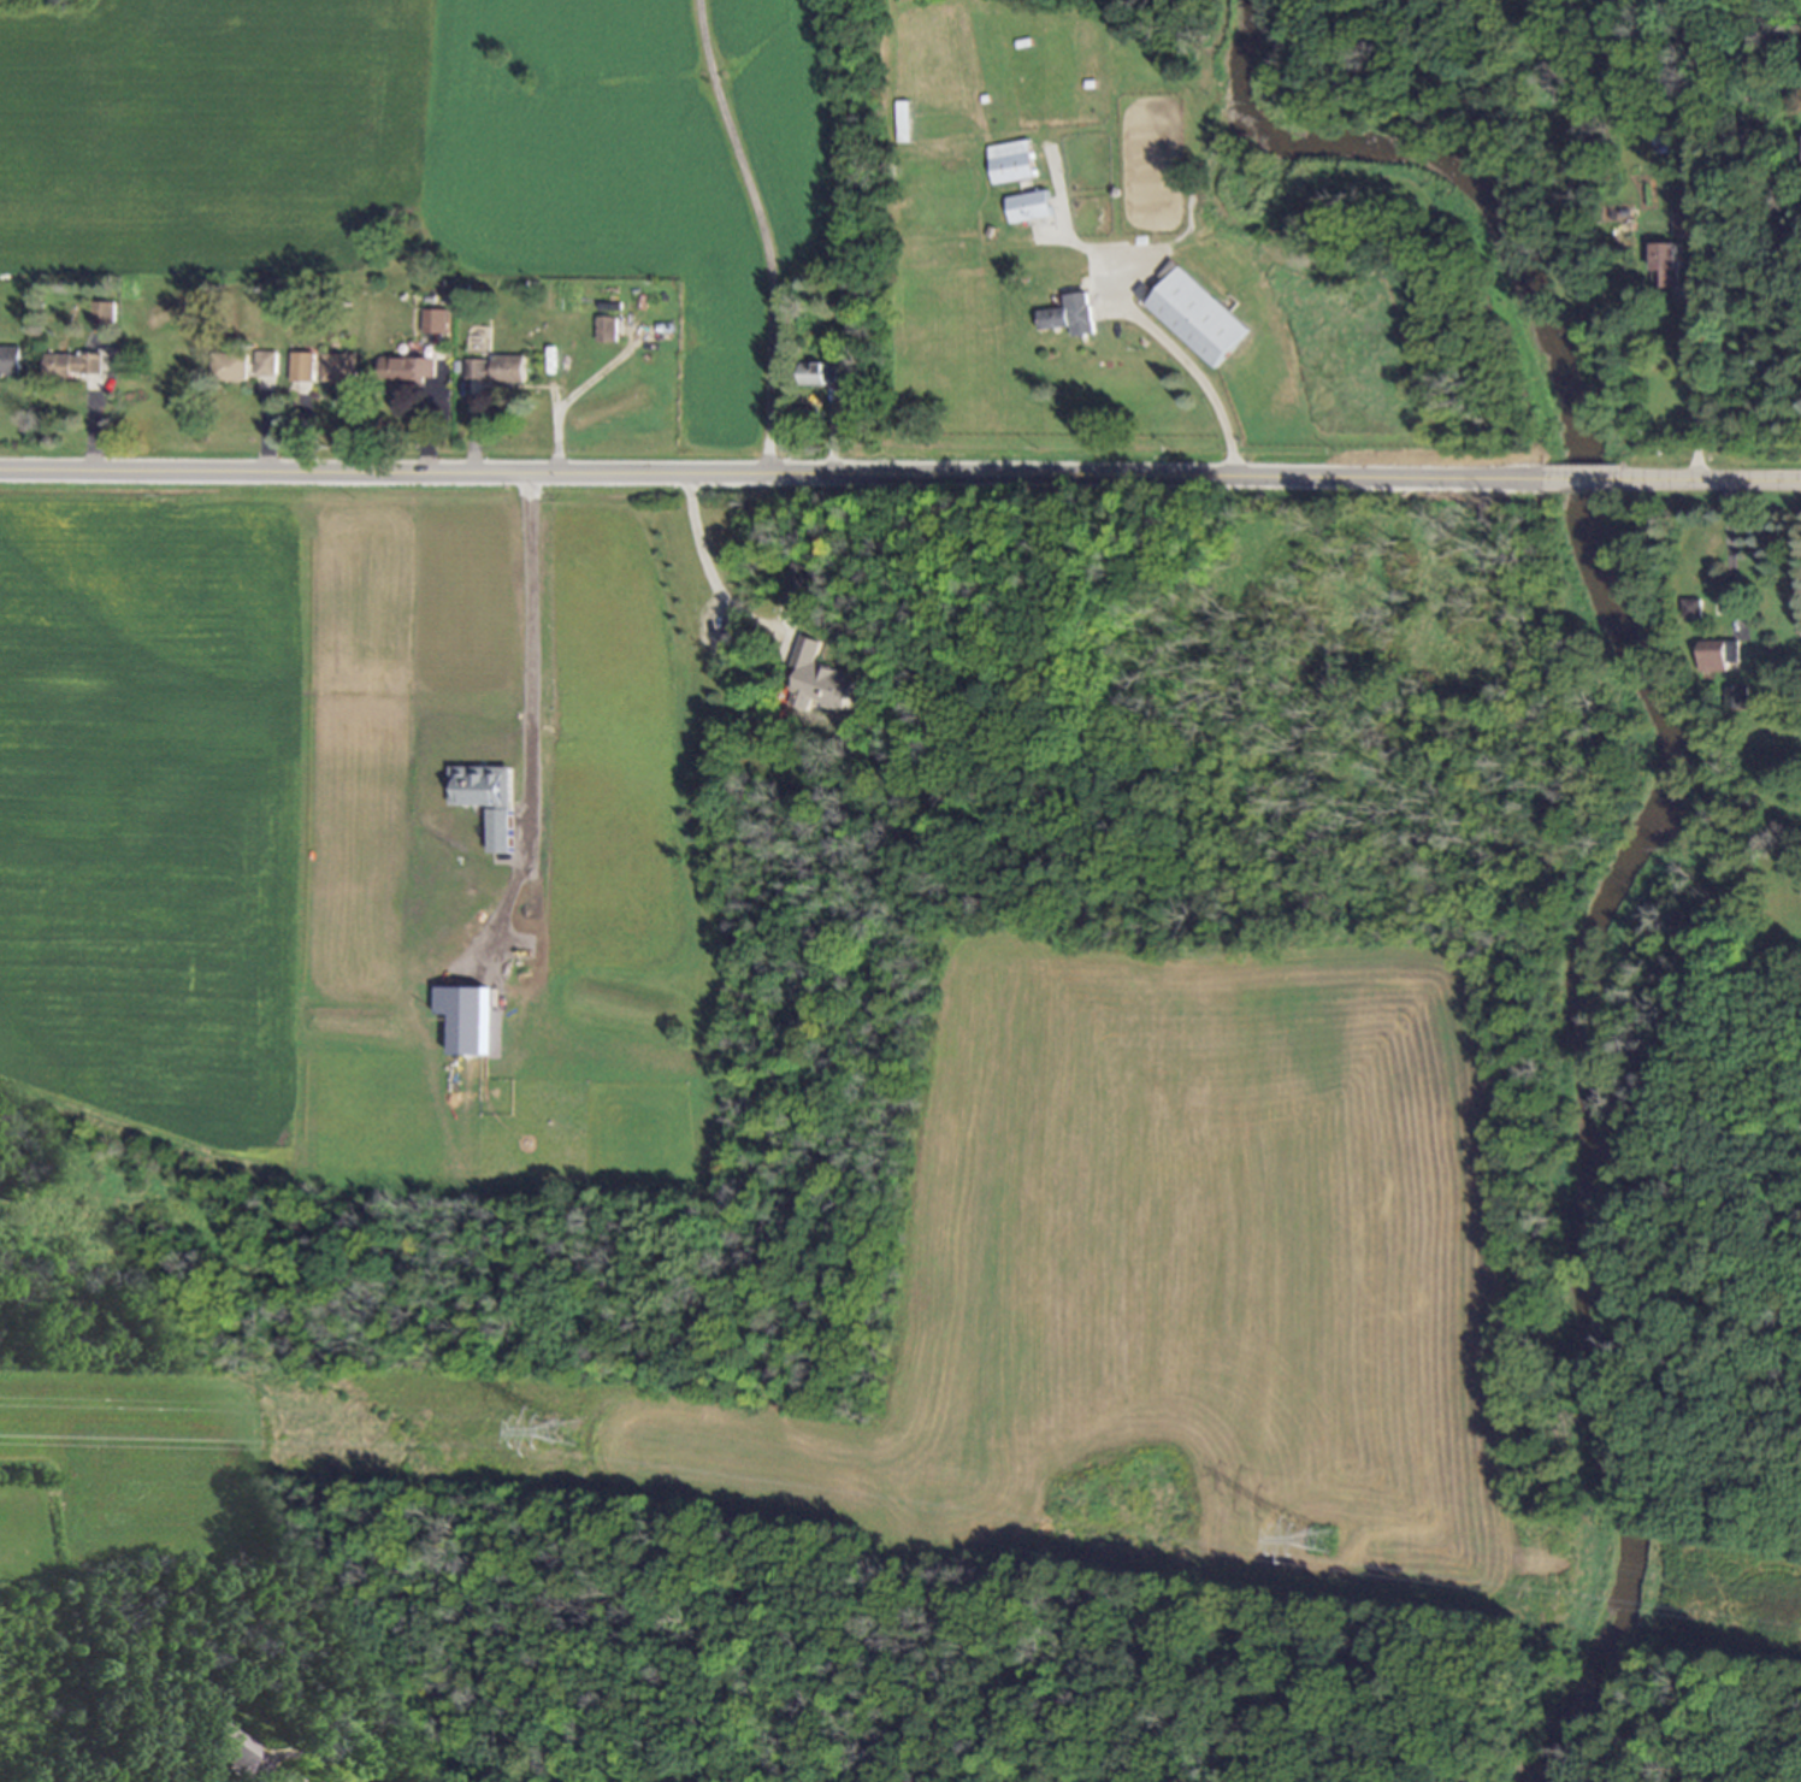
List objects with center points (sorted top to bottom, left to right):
building: (1011, 161)
building: (1028, 206)
building: (1687, 223)
road: (764, 234)
building: (1665, 265)
building: (105, 313)
building: (1070, 315)
building: (1197, 317)
building: (435, 320)
building: (607, 330)
road: (1174, 355)
building: (11, 361)
building: (266, 364)
building: (73, 365)
building: (234, 367)
building: (302, 367)
building: (341, 367)
building: (497, 368)
building: (407, 370)
building: (821, 373)
road: (1697, 390)
road: (581, 391)
road: (899, 476)
road: (1729, 559)
road: (708, 566)
building: (802, 588)
road: (531, 603)
building: (1691, 608)
building: (1719, 655)
building: (820, 680)
building: (1737, 697)
crop: (341, 834)
building: (467, 1017)
power tower: (557, 1428)
power tower: (1323, 1539)
building: (226, 1745)
road: (366, 1780)

